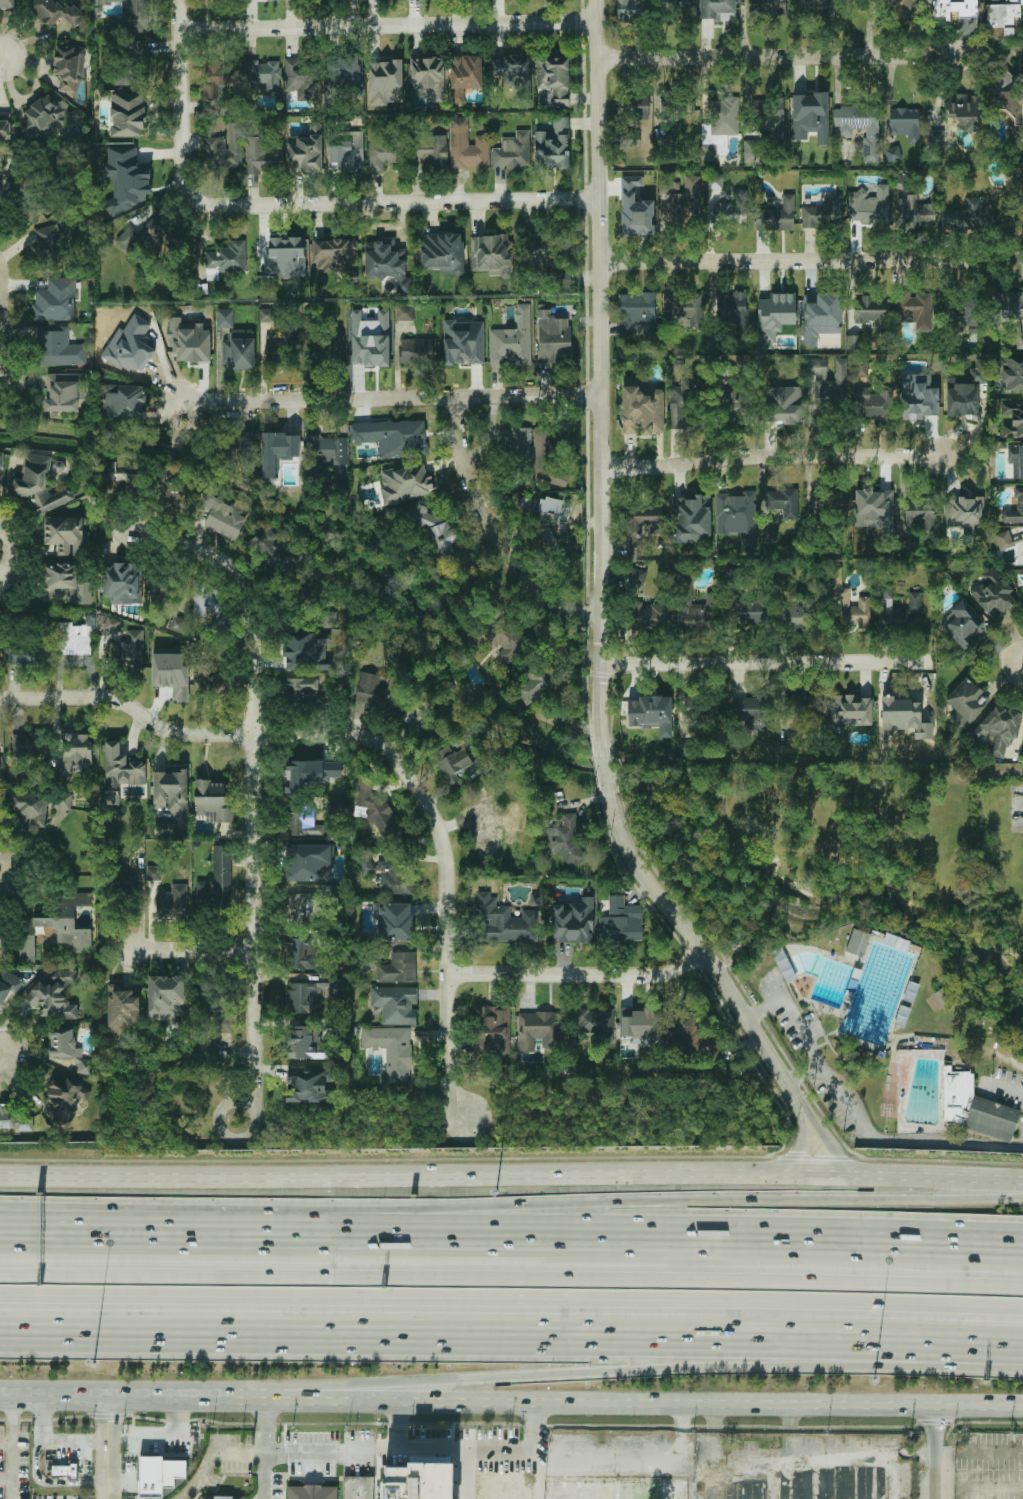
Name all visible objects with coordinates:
building: (7, 4)
building: (677, 4)
building: (766, 7)
building: (810, 7)
building: (903, 8)
building: (953, 8)
building: (632, 9)
building: (717, 9)
building: (56, 11)
building: (1001, 19)
building: (127, 26)
road: (388, 26)
road: (777, 56)
road: (2, 58)
building: (69, 65)
building: (513, 70)
building: (262, 73)
building: (464, 75)
building: (344, 77)
building: (427, 77)
building: (217, 78)
building: (303, 78)
building: (554, 79)
building: (385, 82)
building: (1010, 96)
road: (180, 99)
building: (676, 101)
building: (633, 107)
building: (964, 109)
building: (43, 113)
building: (127, 114)
building: (724, 115)
building: (767, 116)
building: (810, 116)
building: (904, 121)
building: (860, 127)
building: (5, 129)
building: (628, 138)
building: (935, 140)
building: (665, 142)
building: (553, 145)
building: (467, 146)
building: (225, 147)
building: (386, 149)
building: (429, 149)
building: (513, 151)
building: (709, 151)
building: (752, 151)
building: (304, 153)
building: (262, 154)
building: (125, 178)
building: (714, 180)
building: (680, 198)
road: (392, 202)
building: (868, 204)
building: (635, 208)
building: (732, 208)
building: (914, 212)
building: (823, 213)
building: (777, 215)
building: (969, 217)
building: (151, 234)
building: (50, 240)
building: (442, 252)
building: (333, 253)
building: (492, 254)
building: (285, 256)
building: (225, 259)
road: (788, 261)
building: (386, 262)
building: (562, 279)
building: (55, 300)
building: (683, 308)
building: (960, 308)
building: (733, 311)
building: (871, 311)
building: (1009, 311)
building: (266, 314)
building: (637, 314)
building: (820, 315)
building: (774, 316)
building: (224, 318)
road: (1, 323)
building: (370, 339)
building: (512, 339)
building: (558, 339)
building: (188, 341)
building: (463, 341)
building: (853, 342)
building: (278, 345)
building: (330, 345)
building: (59, 347)
building: (239, 348)
building: (417, 350)
building: (862, 368)
building: (1010, 371)
road: (600, 378)
building: (828, 383)
building: (64, 391)
building: (965, 393)
building: (918, 396)
building: (125, 400)
building: (682, 400)
road: (390, 401)
building: (873, 403)
building: (783, 404)
building: (734, 407)
building: (643, 410)
building: (1013, 419)
building: (394, 437)
building: (241, 449)
building: (278, 450)
building: (324, 452)
building: (545, 457)
road: (771, 458)
building: (1015, 459)
building: (1, 468)
building: (117, 478)
building: (406, 483)
building: (39, 484)
building: (177, 496)
building: (1019, 498)
building: (783, 501)
building: (828, 503)
building: (965, 513)
building: (920, 514)
building: (220, 515)
building: (737, 516)
building: (691, 518)
building: (436, 532)
building: (65, 535)
road: (495, 535)
building: (1004, 539)
building: (634, 541)
building: (908, 546)
building: (275, 551)
road: (8, 556)
building: (66, 581)
building: (122, 582)
building: (993, 593)
building: (205, 598)
building: (863, 601)
building: (699, 610)
building: (753, 611)
building: (902, 613)
building: (650, 615)
building: (800, 615)
building: (329, 618)
building: (961, 622)
building: (111, 624)
building: (73, 638)
building: (503, 638)
building: (131, 647)
building: (308, 651)
building: (25, 654)
road: (765, 664)
road: (1008, 664)
building: (171, 673)
building: (210, 679)
building: (534, 685)
building: (300, 689)
building: (371, 689)
building: (966, 703)
building: (801, 706)
building: (851, 710)
building: (754, 711)
building: (651, 713)
building: (904, 715)
building: (999, 730)
road: (312, 736)
building: (28, 743)
building: (76, 748)
building: (454, 764)
building: (122, 767)
road: (605, 770)
building: (309, 773)
road: (253, 777)
building: (170, 790)
building: (62, 800)
building: (212, 801)
building: (30, 809)
building: (376, 811)
building: (303, 823)
building: (489, 830)
building: (566, 839)
building: (308, 862)
building: (386, 873)
road: (6, 876)
building: (216, 879)
building: (171, 901)
building: (299, 907)
building: (63, 919)
building: (393, 920)
building: (504, 920)
building: (572, 921)
building: (620, 921)
building: (0, 936)
building: (858, 942)
road: (698, 948)
road: (191, 951)
building: (300, 953)
building: (782, 962)
building: (399, 967)
road: (579, 974)
building: (8, 983)
building: (336, 986)
building: (54, 995)
building: (165, 996)
building: (304, 997)
building: (938, 999)
building: (395, 1003)
building: (122, 1007)
building: (902, 1015)
building: (594, 1020)
building: (223, 1023)
building: (642, 1026)
building: (492, 1028)
building: (539, 1029)
building: (304, 1041)
building: (63, 1042)
building: (699, 1044)
road: (449, 1047)
building: (392, 1050)
building: (85, 1065)
building: (310, 1083)
road: (1002, 1087)
building: (65, 1099)
building: (975, 1108)
road: (858, 1113)
building: (15, 1117)
road: (217, 1121)
road: (828, 1140)
road: (798, 1148)
road: (511, 1167)
road: (659, 1203)
road: (111, 1227)
road: (111, 1239)
road: (260, 1239)
road: (660, 1246)
road: (511, 1286)
road: (511, 1300)
road: (511, 1340)
road: (652, 1370)
road: (35, 1392)
road: (511, 1402)
road: (9, 1419)
road: (398, 1423)
road: (537, 1426)
road: (683, 1429)
road: (52, 1439)
road: (108, 1447)
road: (264, 1448)
road: (473, 1448)
road: (816, 1453)
road: (934, 1453)
road: (978, 1453)
road: (210, 1454)
building: (69, 1465)
road: (9, 1467)
road: (467, 1473)
building: (158, 1475)
road: (37, 1478)
road: (5, 1479)
building: (419, 1481)
building: (356, 1487)
road: (991, 1487)
building: (312, 1492)
building: (223, 1497)

